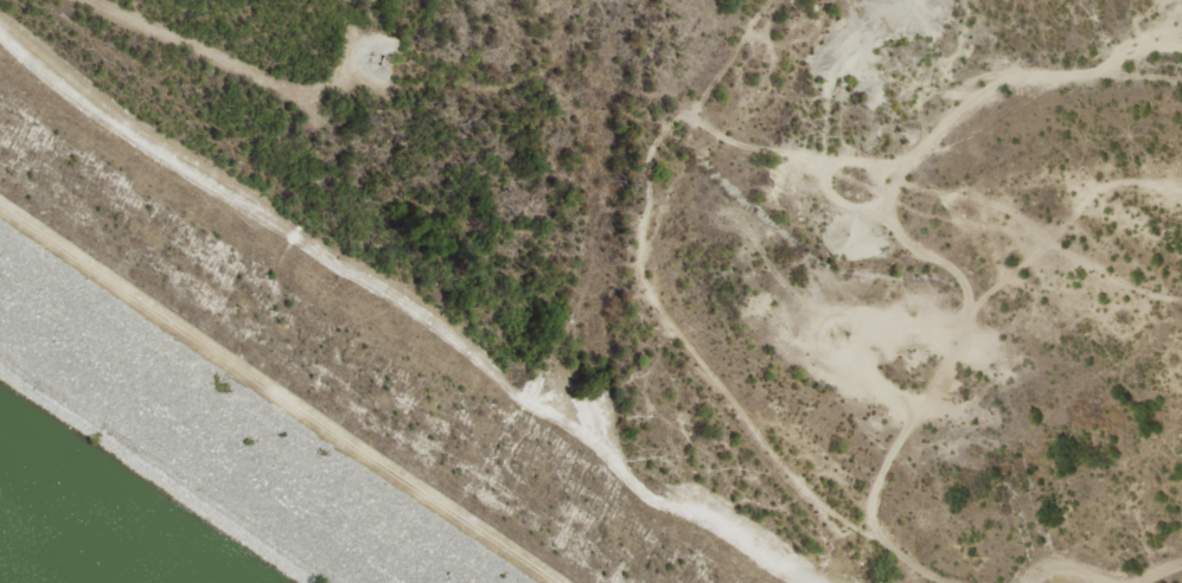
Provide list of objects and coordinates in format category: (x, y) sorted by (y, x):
river: (589, 182)
road: (899, 226)
road: (672, 325)
road: (264, 401)
dam: (250, 409)
river: (488, 474)
road: (1056, 565)

